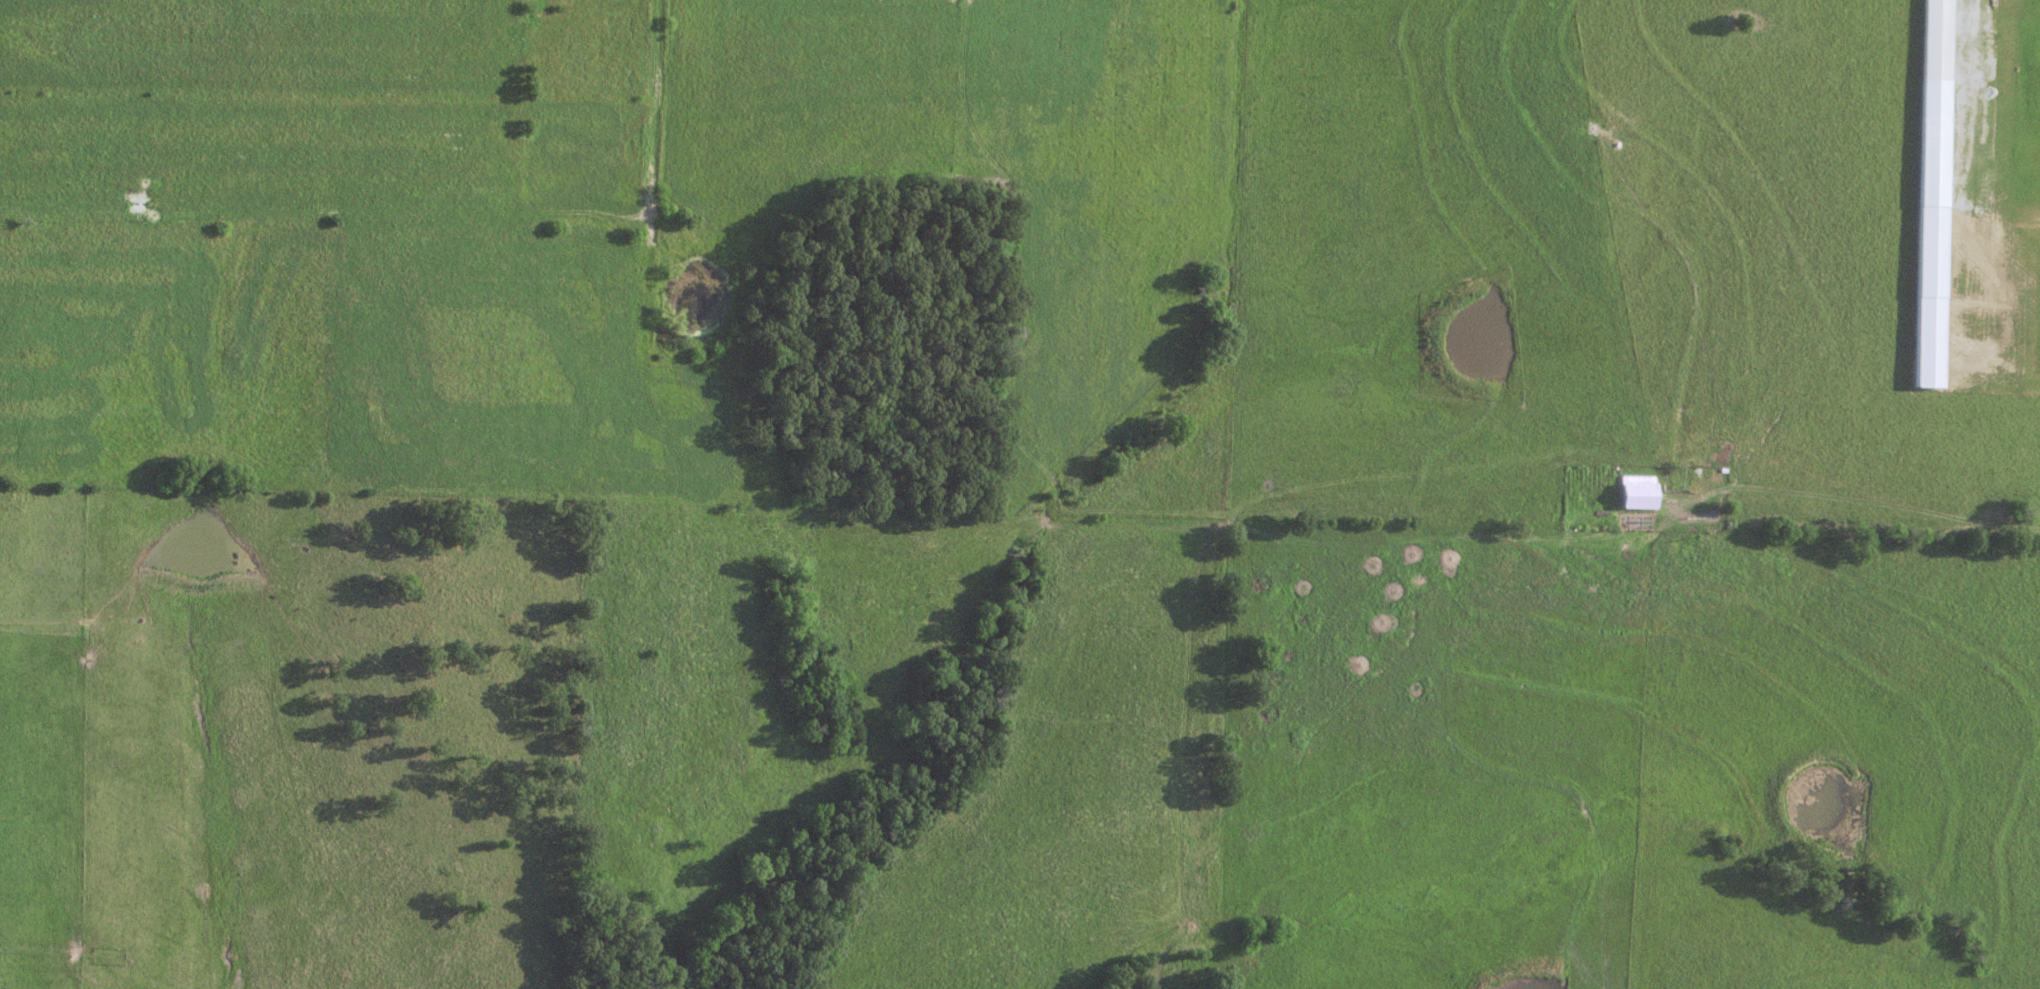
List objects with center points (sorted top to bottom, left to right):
road: (1727, 455)
building: (1635, 492)

